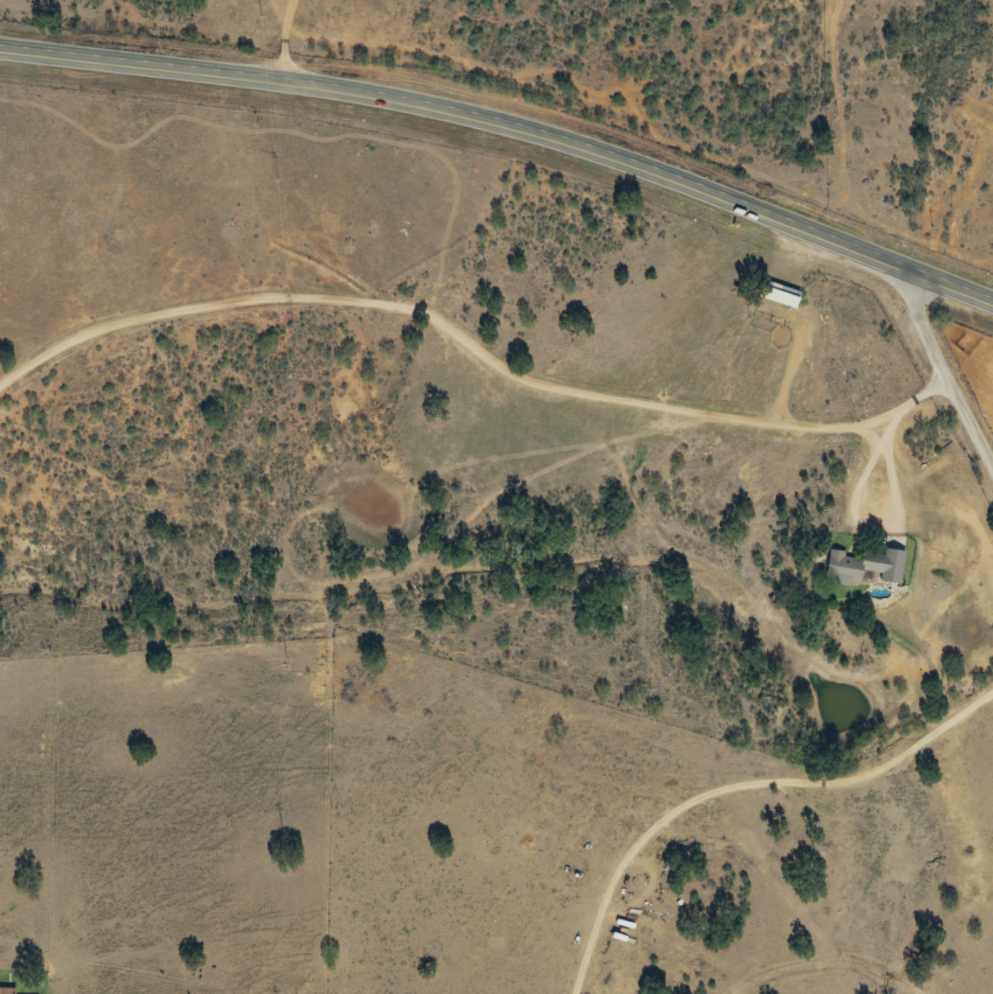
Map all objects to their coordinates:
road: (510, 128)
building: (781, 294)
road: (948, 368)
road: (479, 369)
building: (850, 569)
building: (8, 990)

